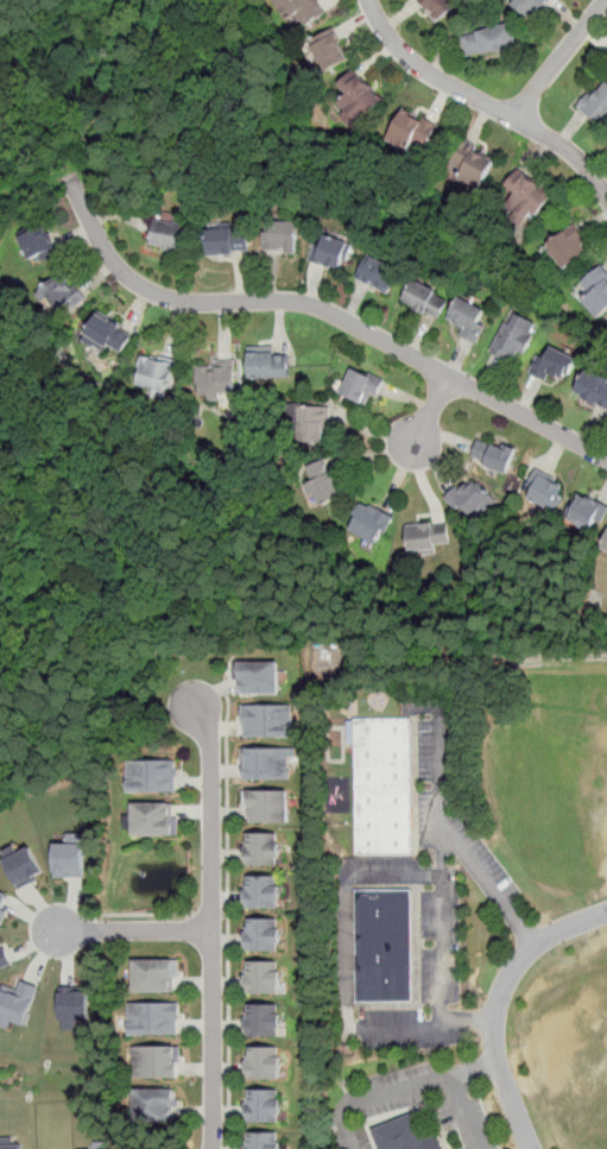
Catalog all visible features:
building: (530, 7)
building: (440, 8)
building: (302, 12)
building: (489, 42)
building: (330, 51)
road: (558, 58)
building: (359, 96)
road: (482, 102)
building: (596, 102)
building: (412, 130)
building: (469, 164)
building: (525, 200)
building: (171, 234)
building: (280, 235)
building: (228, 240)
building: (38, 244)
building: (569, 246)
building: (330, 251)
building: (378, 273)
building: (595, 291)
building: (63, 293)
building: (425, 299)
road: (323, 309)
building: (467, 317)
building: (108, 332)
building: (516, 335)
building: (270, 364)
building: (554, 365)
building: (156, 372)
building: (216, 378)
building: (362, 385)
building: (593, 387)
road: (431, 413)
building: (312, 424)
building: (493, 455)
building: (323, 482)
building: (545, 492)
building: (472, 498)
building: (587, 512)
building: (369, 523)
building: (426, 537)
building: (605, 544)
building: (258, 676)
building: (268, 720)
building: (266, 763)
building: (152, 774)
building: (384, 784)
road: (441, 788)
building: (265, 806)
building: (153, 820)
building: (263, 847)
building: (71, 856)
building: (24, 864)
road: (476, 865)
building: (263, 890)
road: (443, 896)
building: (4, 907)
road: (143, 914)
road: (209, 914)
road: (228, 914)
road: (209, 922)
road: (520, 926)
road: (132, 930)
building: (263, 934)
building: (384, 946)
building: (5, 958)
building: (154, 977)
building: (263, 977)
building: (18, 1003)
road: (498, 1004)
building: (74, 1005)
building: (154, 1019)
building: (263, 1019)
road: (468, 1019)
road: (406, 1027)
building: (263, 1062)
building: (156, 1063)
road: (475, 1068)
road: (413, 1086)
building: (263, 1105)
building: (153, 1106)
building: (406, 1135)
building: (255, 1141)
building: (11, 1143)
building: (102, 1144)

